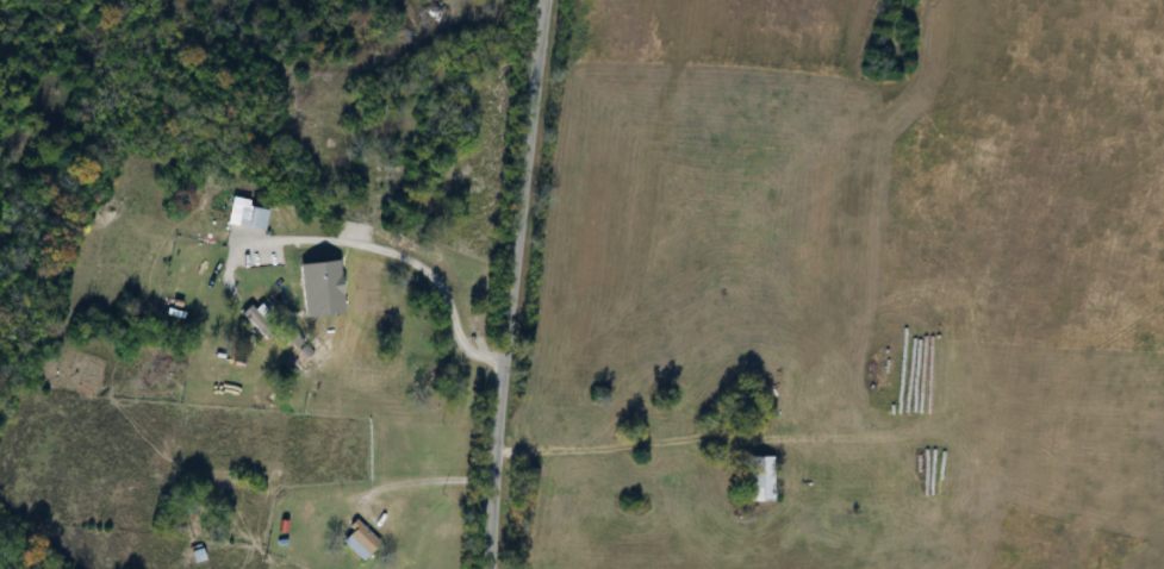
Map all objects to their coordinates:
building: (245, 217)
road: (381, 246)
road: (512, 283)
road: (416, 479)
building: (754, 480)
building: (354, 540)

